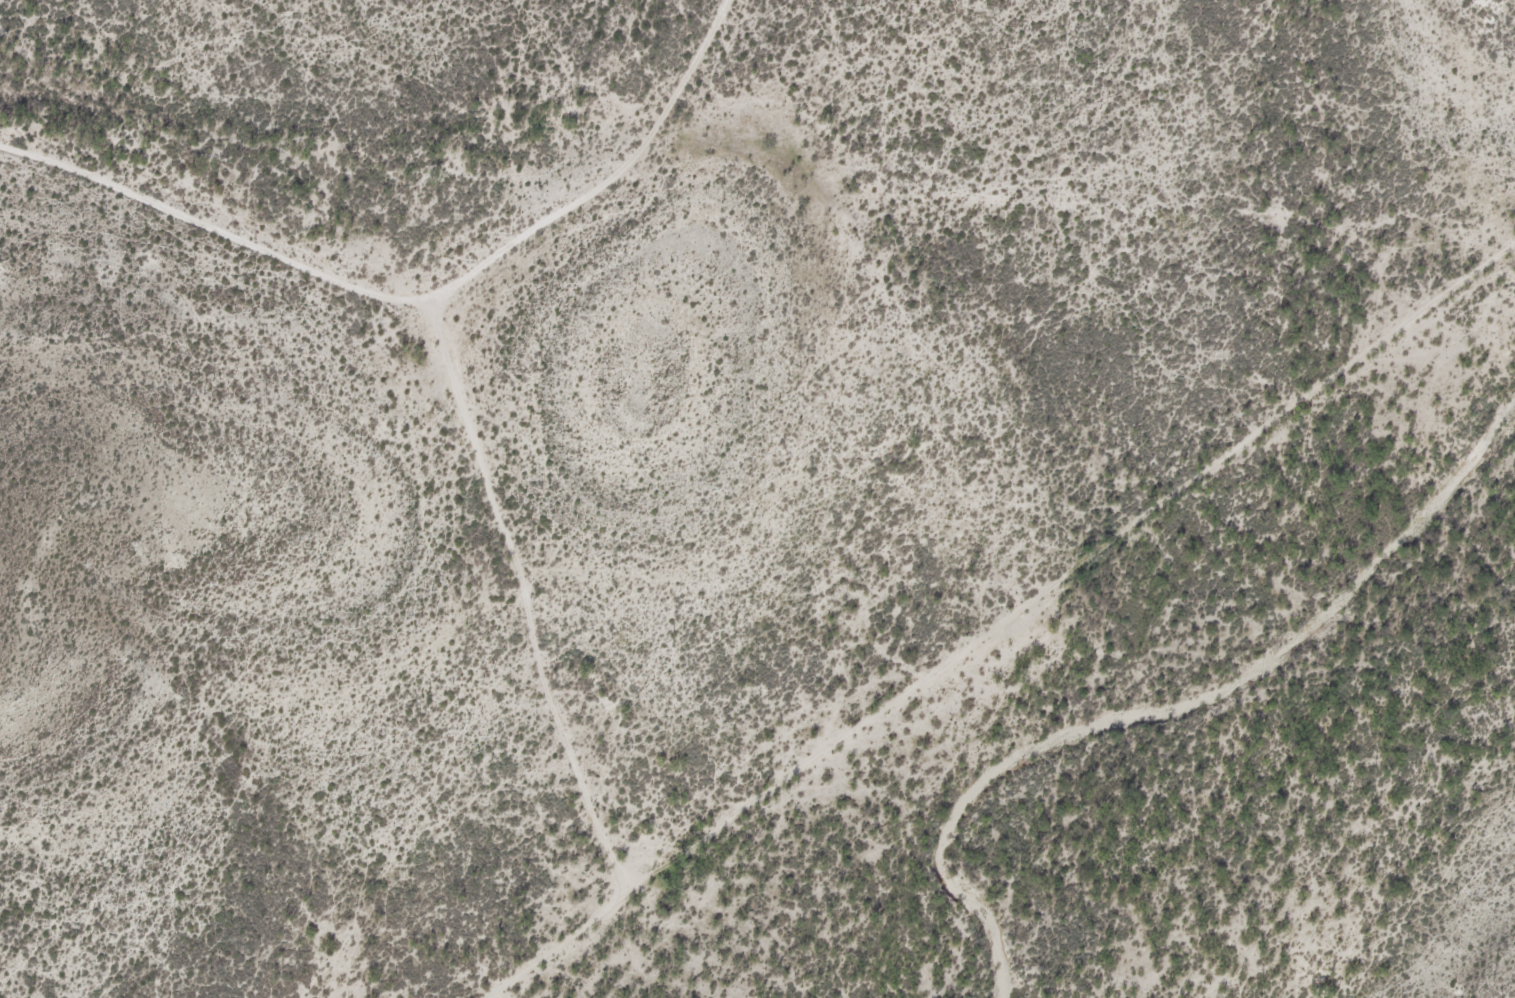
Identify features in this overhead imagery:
road: (419, 296)

